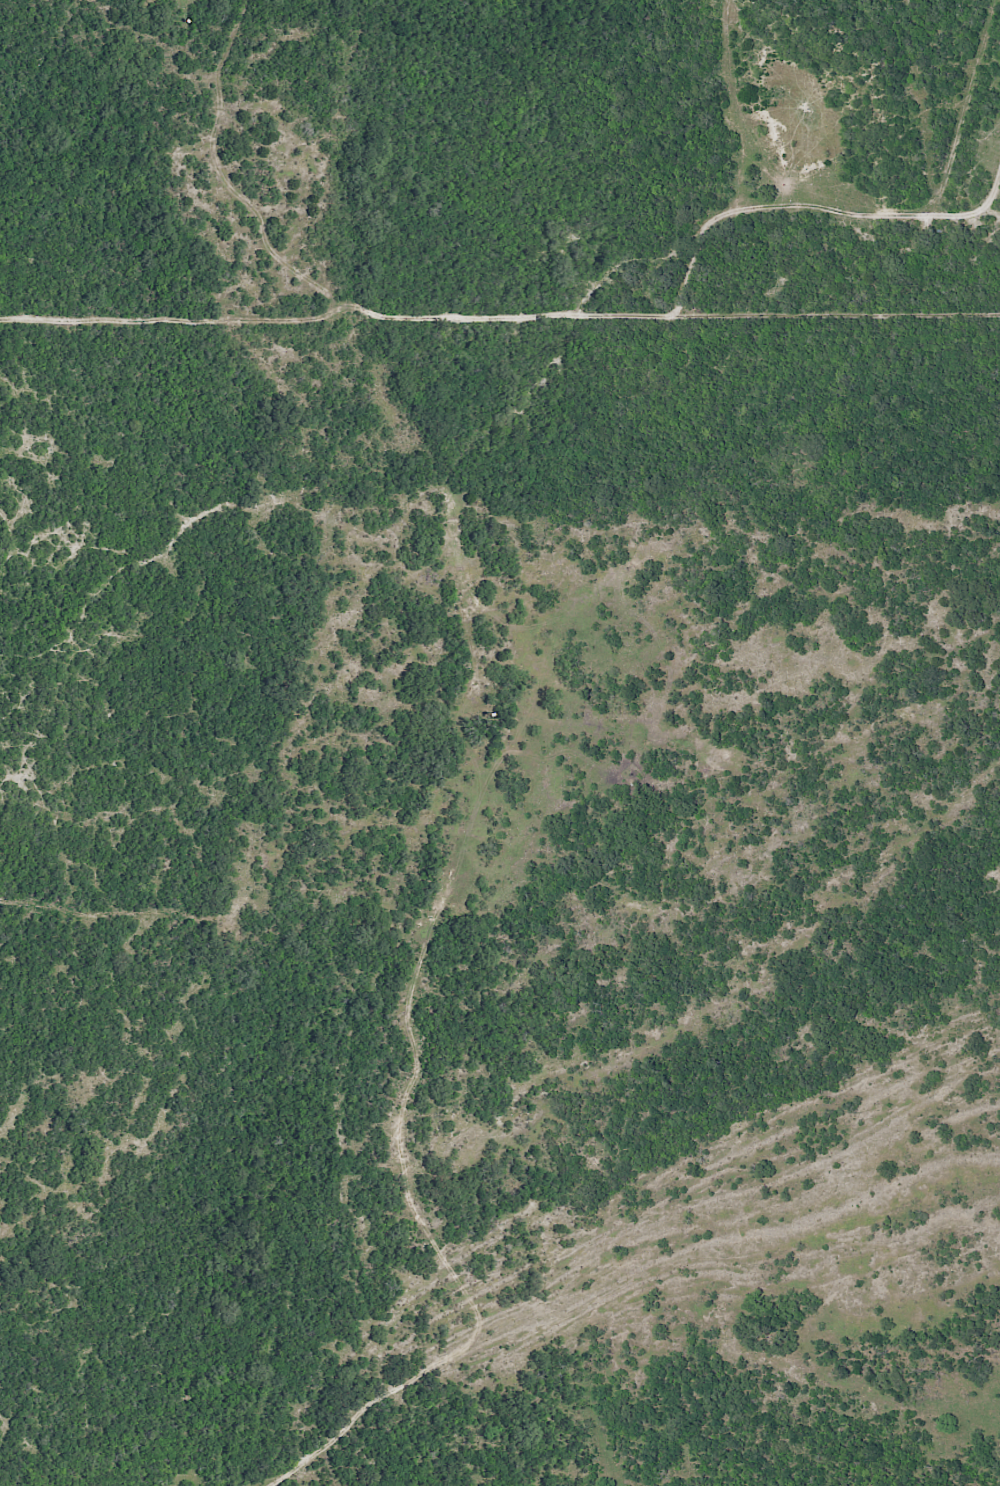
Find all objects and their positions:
road: (635, 1325)

